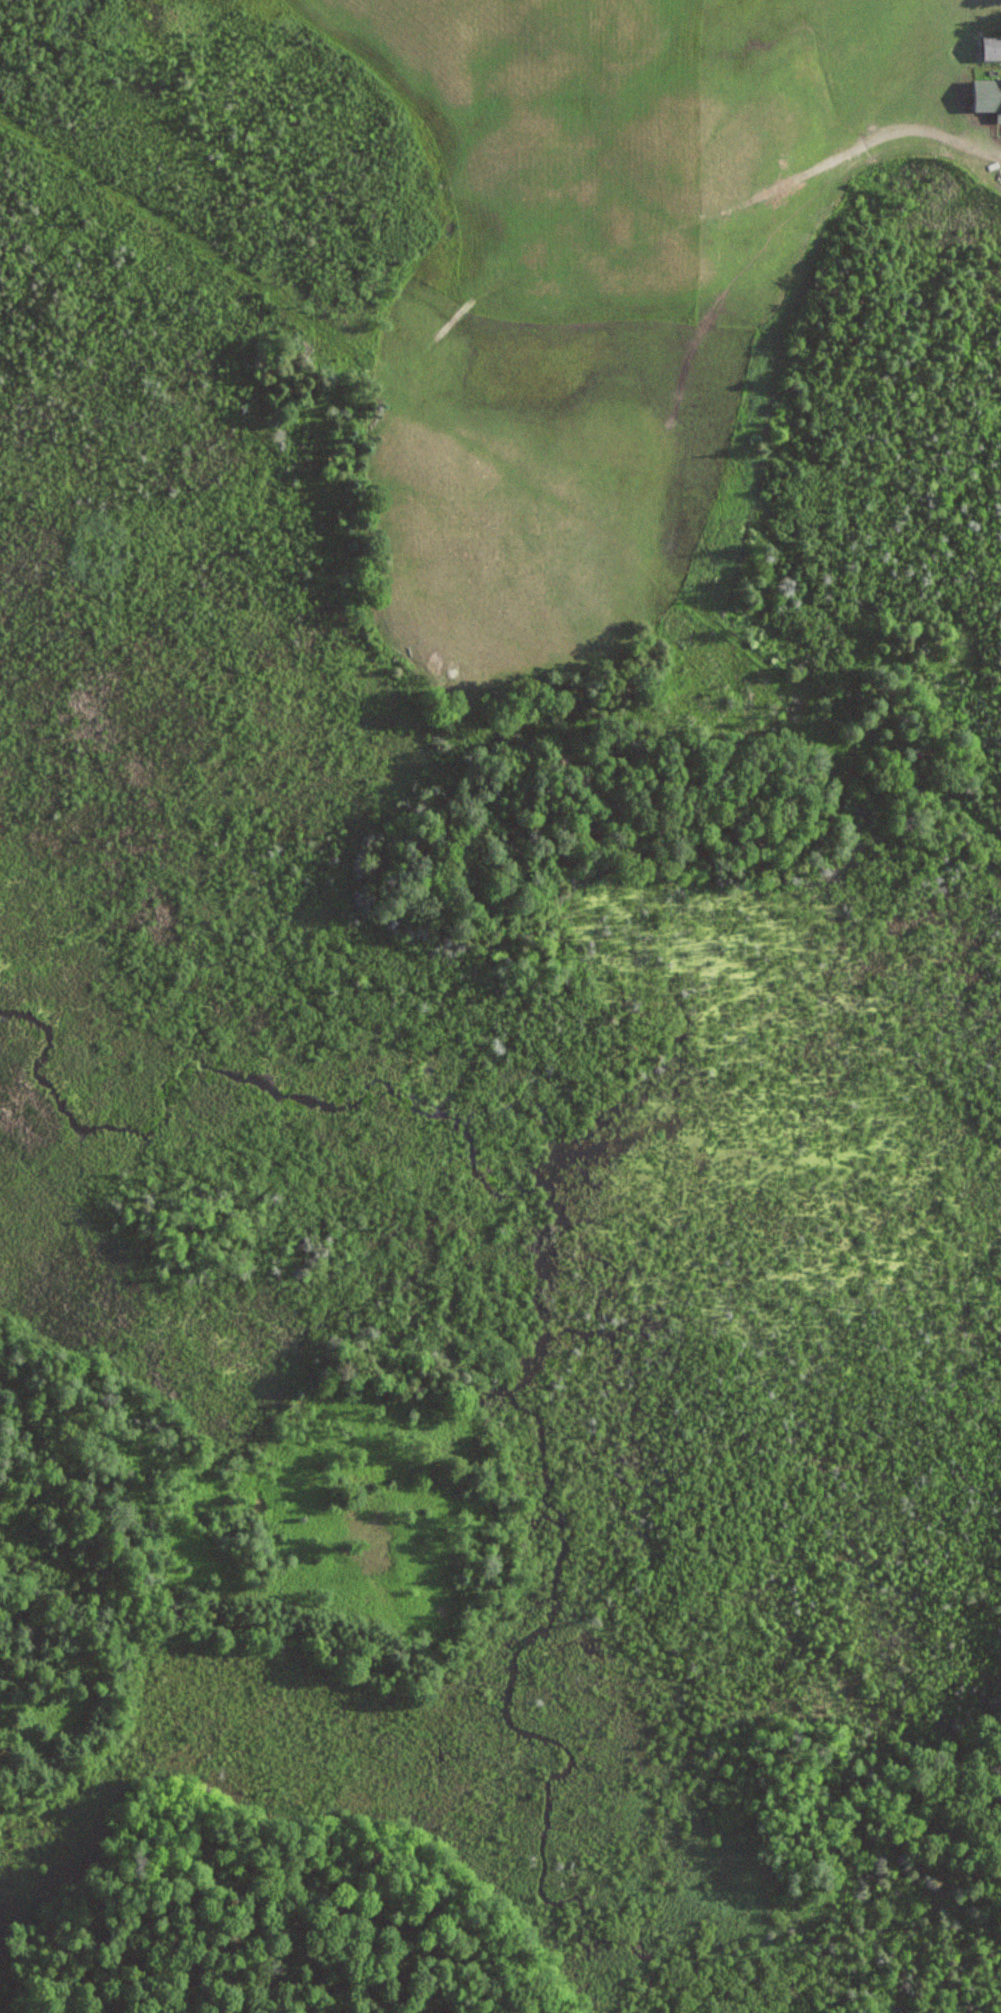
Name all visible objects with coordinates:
building: (993, 48)
building: (988, 96)

